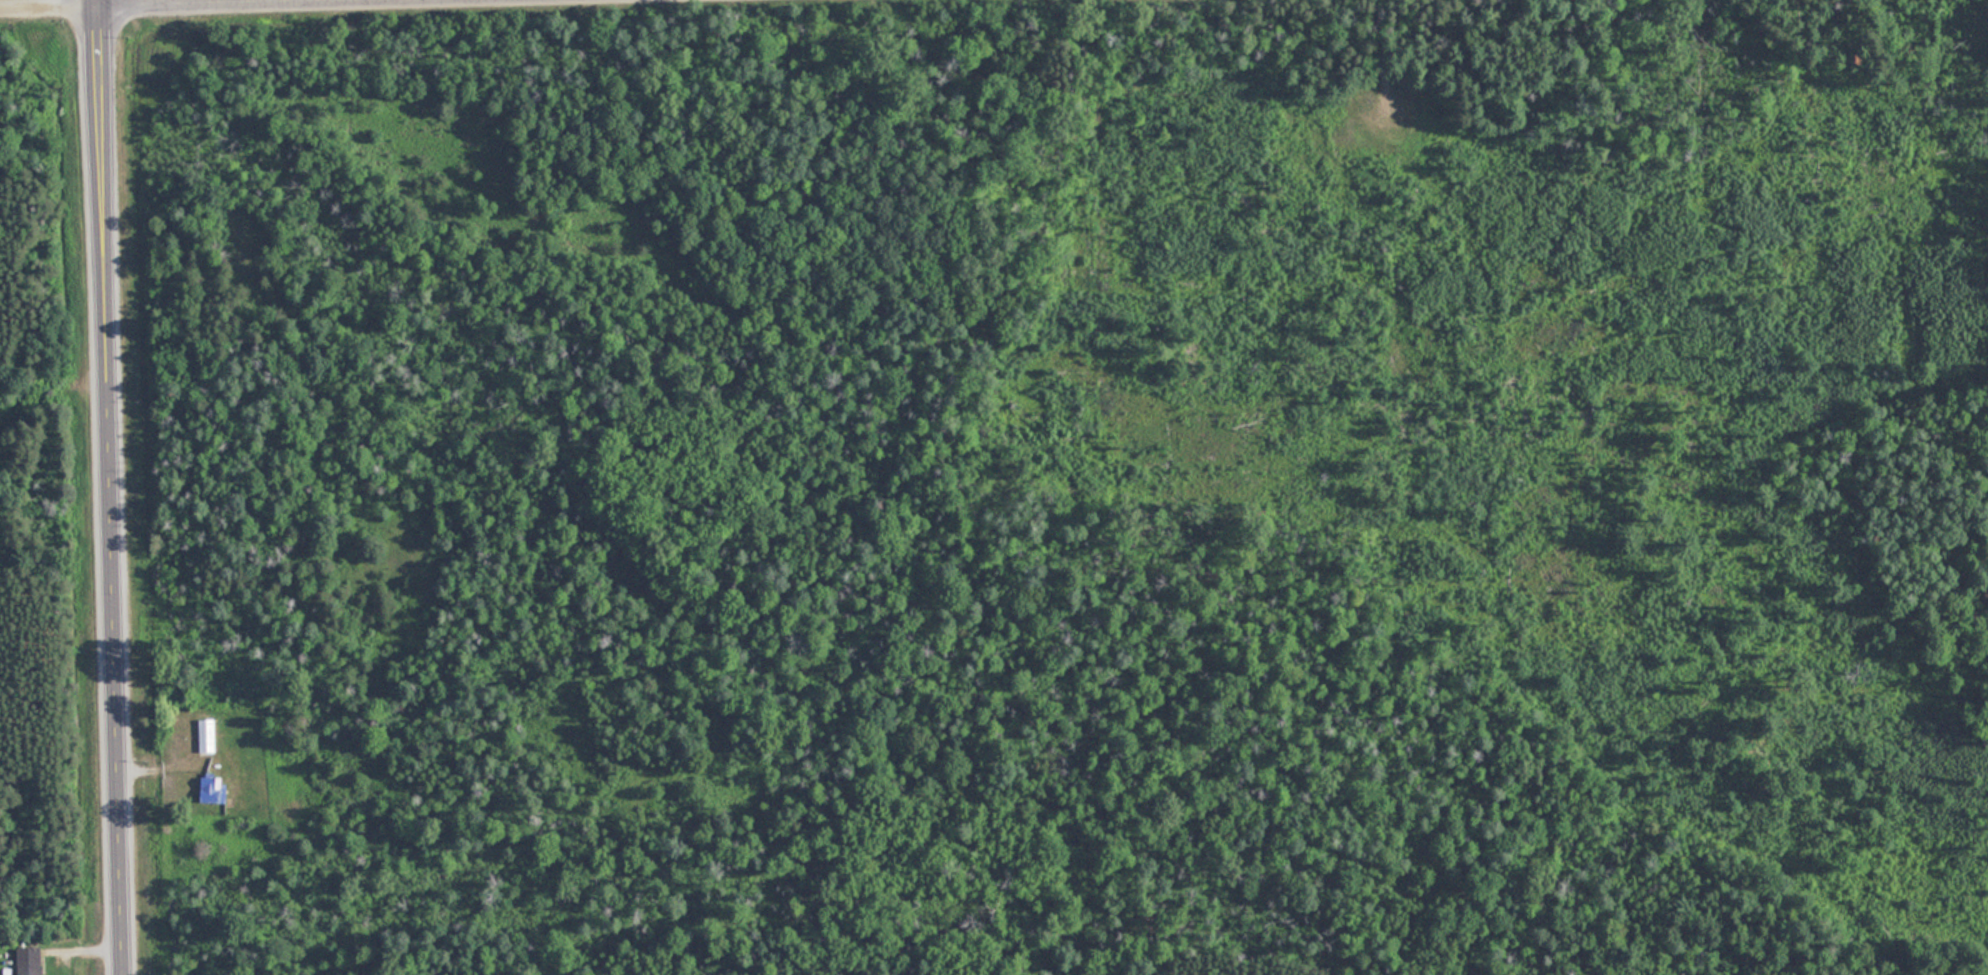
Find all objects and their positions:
road: (317, 6)
road: (50, 14)
park: (1060, 482)
road: (113, 487)
building: (207, 735)
building: (213, 789)
road: (88, 949)
building: (29, 961)

